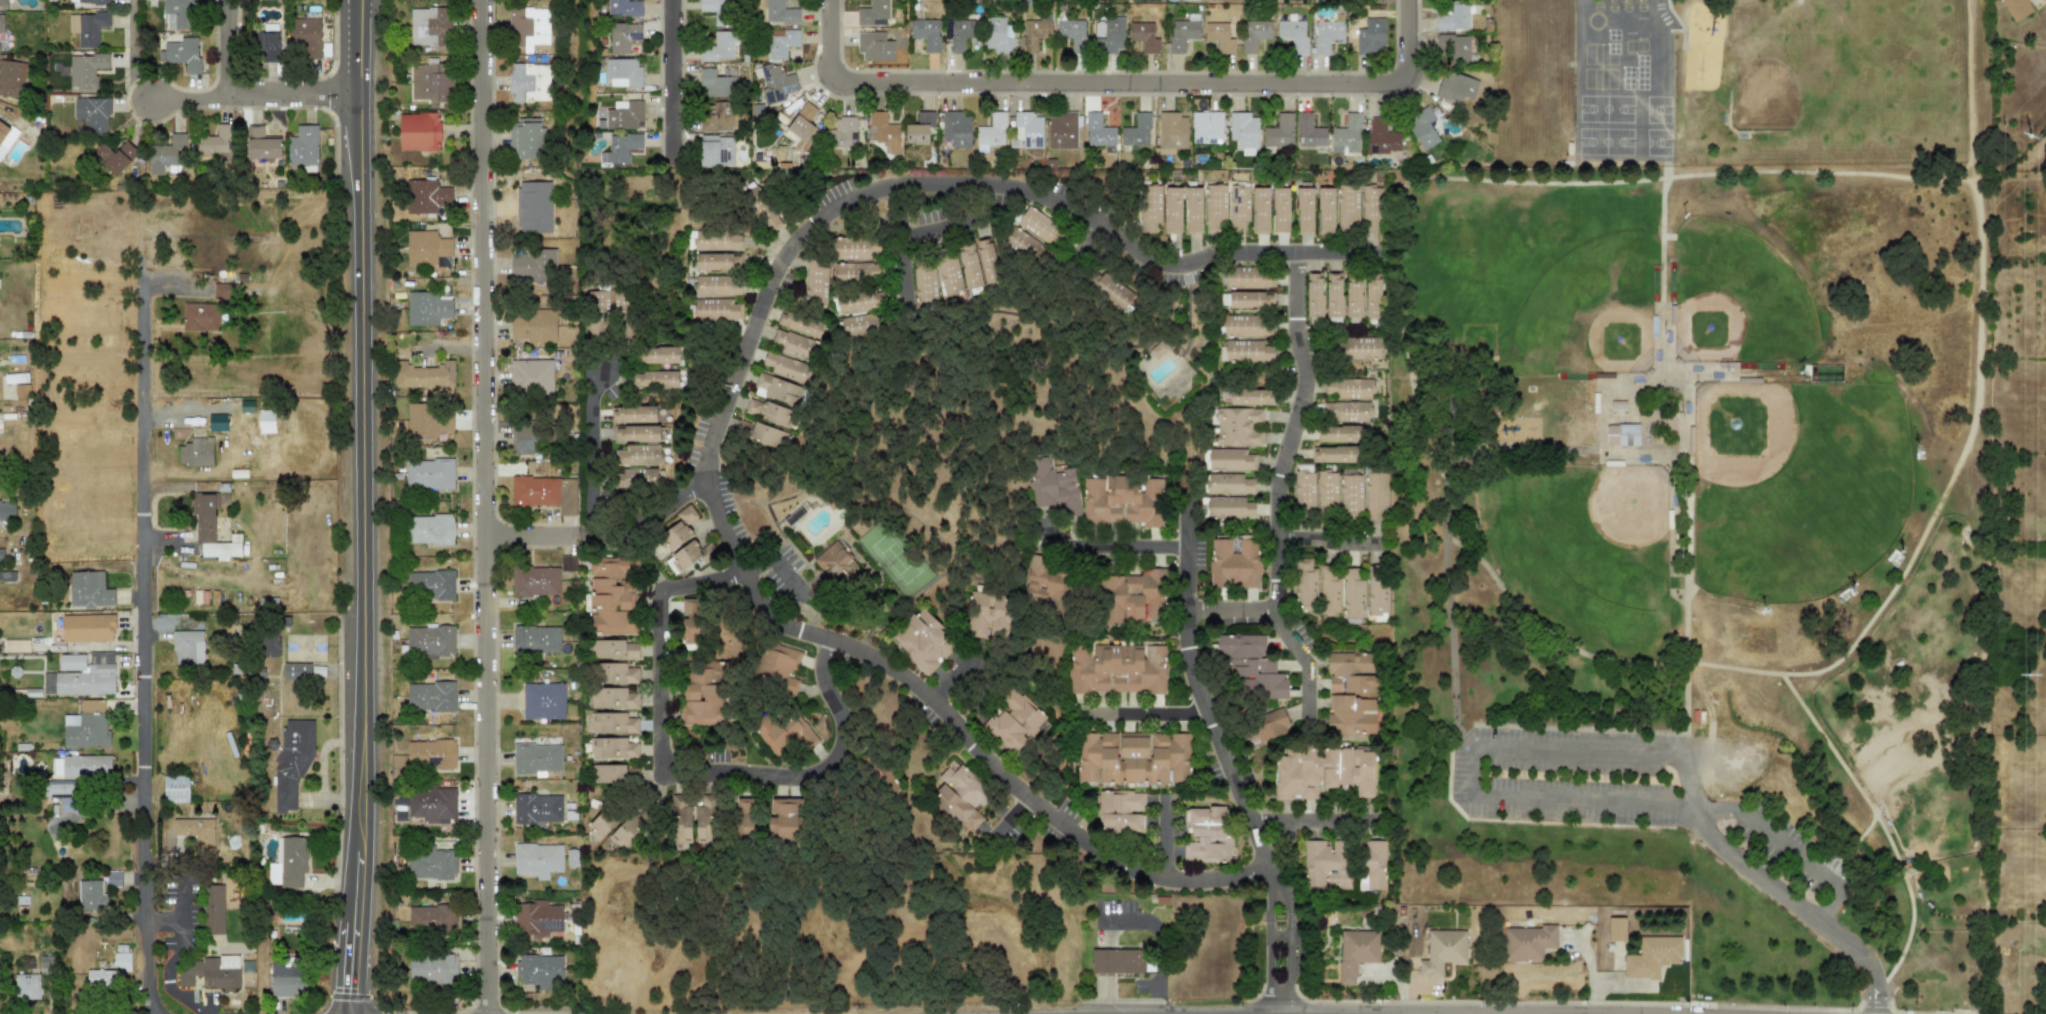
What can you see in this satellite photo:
building: (88, 2)
building: (3, 3)
building: (624, 7)
building: (2015, 8)
building: (717, 11)
road: (486, 12)
building: (872, 12)
building: (778, 13)
building: (178, 14)
building: (1453, 18)
building: (1, 23)
building: (430, 25)
building: (88, 27)
building: (527, 28)
building: (1034, 32)
building: (926, 33)
building: (961, 33)
building: (1072, 33)
building: (1181, 34)
building: (1293, 34)
building: (1326, 34)
building: (998, 35)
building: (1109, 35)
building: (1254, 35)
building: (622, 36)
building: (1144, 36)
building: (1219, 36)
building: (1370, 36)
building: (307, 37)
building: (271, 41)
building: (781, 42)
building: (719, 46)
building: (874, 46)
building: (1456, 48)
road: (231, 49)
building: (179, 51)
road: (135, 54)
building: (85, 69)
building: (622, 72)
building: (11, 78)
building: (431, 80)
building: (529, 81)
building: (776, 81)
building: (716, 82)
road: (1120, 82)
building: (1455, 86)
road: (676, 87)
road: (253, 97)
building: (92, 113)
building: (623, 114)
building: (714, 116)
building: (802, 122)
building: (1206, 126)
building: (918, 128)
building: (1422, 128)
building: (3, 129)
building: (956, 129)
building: (1028, 129)
building: (418, 130)
building: (1062, 130)
building: (1171, 130)
building: (841, 131)
building: (1097, 131)
building: (1136, 131)
building: (1308, 131)
building: (882, 132)
building: (991, 132)
building: (1243, 132)
building: (1278, 132)
building: (1346, 135)
building: (1381, 137)
building: (524, 138)
building: (214, 141)
building: (263, 143)
building: (303, 145)
building: (620, 147)
building: (715, 149)
building: (167, 155)
building: (114, 157)
road: (1448, 178)
building: (425, 196)
building: (1150, 204)
building: (529, 206)
building: (1238, 208)
building: (1348, 208)
building: (1215, 209)
building: (1173, 210)
building: (1193, 210)
building: (1260, 210)
building: (1280, 210)
building: (1304, 210)
building: (1326, 210)
building: (1371, 210)
building: (1038, 225)
road: (932, 230)
road: (1668, 237)
building: (715, 241)
building: (427, 248)
building: (855, 248)
building: (717, 261)
building: (987, 261)
road: (1074, 261)
building: (532, 265)
building: (969, 267)
road: (899, 270)
building: (855, 272)
building: (949, 274)
building: (1245, 277)
building: (924, 282)
building: (816, 283)
road: (177, 285)
building: (718, 285)
building: (222, 291)
building: (1113, 292)
building: (1332, 295)
building: (1353, 298)
building: (1372, 298)
park: (1736, 298)
building: (1249, 299)
building: (860, 302)
building: (426, 308)
building: (716, 309)
park: (1589, 310)
building: (200, 317)
building: (801, 324)
building: (862, 325)
building: (1244, 326)
building: (533, 327)
park: (1707, 328)
park: (1619, 341)
building: (794, 345)
building: (1156, 348)
building: (1359, 348)
building: (1245, 351)
building: (659, 355)
building: (785, 367)
building: (423, 375)
building: (532, 375)
road: (1537, 375)
road: (1730, 376)
building: (655, 379)
building: (1352, 388)
building: (776, 389)
building: (22, 395)
building: (1250, 396)
building: (1618, 405)
building: (768, 411)
building: (1346, 411)
road: (1606, 413)
building: (633, 414)
road: (722, 414)
building: (428, 420)
building: (265, 421)
building: (1236, 427)
road: (1289, 431)
park: (1740, 431)
building: (637, 433)
building: (1339, 433)
building: (767, 436)
building: (526, 440)
road: (1560, 448)
building: (196, 451)
building: (1333, 454)
building: (637, 455)
road: (590, 458)
building: (1230, 460)
building: (429, 474)
building: (1228, 483)
building: (1052, 485)
park: (1794, 486)
building: (1303, 490)
building: (534, 491)
building: (1326, 491)
building: (1350, 492)
building: (1375, 495)
building: (1122, 501)
park: (1627, 504)
building: (1228, 506)
road: (358, 507)
building: (7, 510)
road: (647, 511)
road: (485, 518)
building: (211, 528)
building: (430, 529)
road: (529, 533)
building: (683, 541)
road: (1327, 543)
park: (1581, 549)
building: (1, 550)
road: (1122, 551)
building: (1894, 557)
park: (1698, 560)
building: (834, 561)
building: (1237, 561)
building: (568, 563)
building: (1046, 578)
building: (535, 580)
building: (1305, 584)
building: (435, 585)
building: (89, 589)
building: (1330, 590)
building: (1377, 590)
building: (1353, 594)
building: (1844, 594)
building: (611, 595)
building: (1130, 597)
road: (1227, 609)
road: (149, 610)
building: (985, 612)
building: (689, 621)
building: (87, 628)
road: (1453, 632)
building: (536, 640)
building: (429, 641)
building: (923, 642)
building: (187, 647)
building: (615, 650)
building: (71, 661)
road: (955, 667)
building: (780, 668)
building: (1119, 670)
building: (1248, 670)
building: (296, 671)
building: (318, 671)
road: (1306, 671)
building: (619, 674)
building: (88, 677)
building: (1352, 691)
building: (430, 696)
road: (1686, 697)
building: (613, 698)
building: (702, 699)
building: (542, 700)
building: (91, 706)
road: (1137, 721)
building: (1018, 723)
building: (614, 724)
building: (1261, 728)
building: (84, 730)
building: (785, 734)
building: (613, 748)
road: (1578, 753)
building: (431, 754)
building: (292, 759)
building: (1132, 760)
building: (81, 766)
building: (1324, 772)
road: (1473, 777)
road: (1851, 777)
road: (1231, 782)
road: (1689, 784)
building: (175, 789)
road: (691, 790)
building: (960, 796)
road: (1588, 802)
building: (431, 803)
building: (68, 805)
building: (536, 808)
building: (1124, 814)
building: (743, 818)
building: (784, 819)
building: (706, 822)
road: (1315, 822)
building: (681, 825)
road: (1009, 825)
building: (600, 826)
building: (195, 831)
building: (1207, 834)
building: (621, 838)
road: (1786, 846)
building: (537, 859)
building: (291, 862)
building: (431, 865)
building: (1349, 866)
building: (114, 879)
building: (91, 895)
road: (1797, 904)
road: (1911, 908)
building: (214, 910)
building: (431, 918)
building: (537, 919)
road: (1158, 939)
building: (1610, 940)
building: (1534, 942)
building: (1442, 950)
building: (1356, 951)
building: (1118, 959)
building: (1652, 961)
building: (121, 962)
building: (47, 966)
building: (247, 967)
building: (432, 969)
building: (538, 971)
building: (209, 972)
road: (1593, 973)
building: (103, 979)
building: (288, 979)
building: (27, 987)

